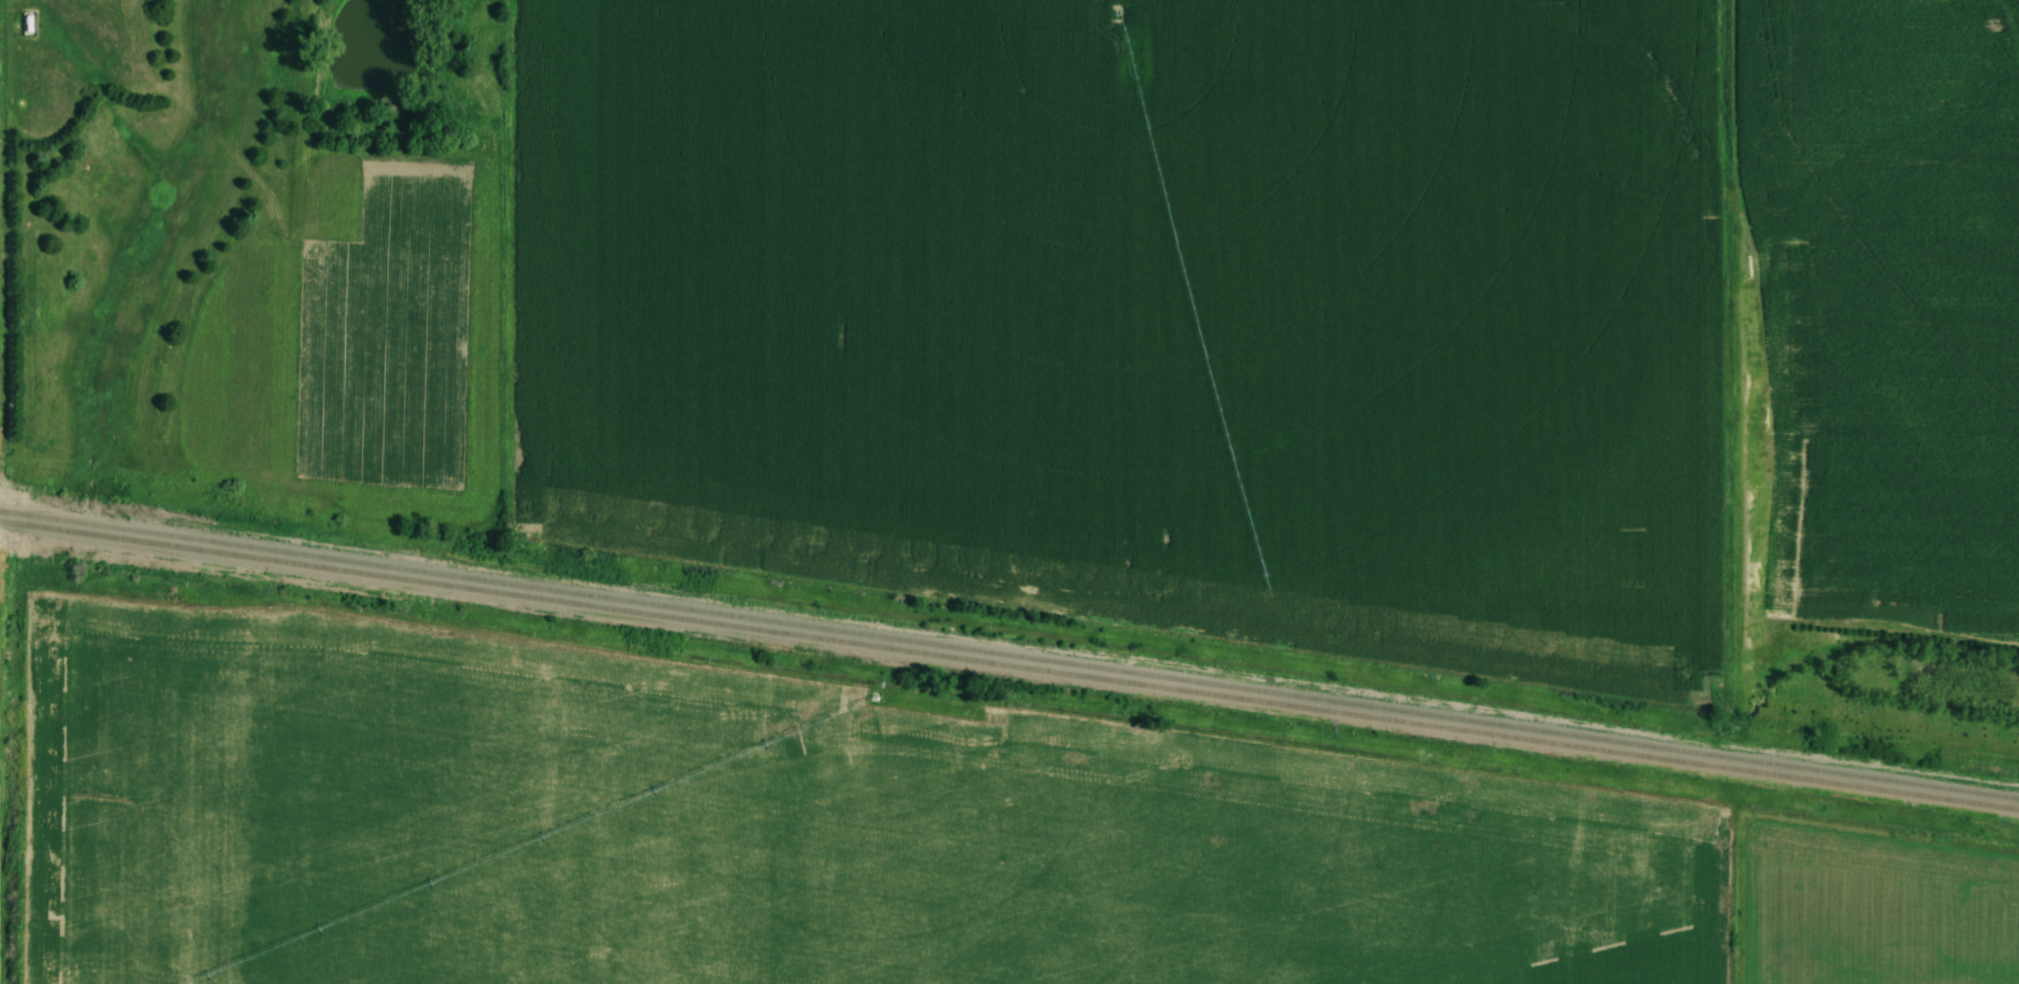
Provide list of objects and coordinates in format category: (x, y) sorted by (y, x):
crop: (1889, 308)
railway: (1008, 653)
railway: (1008, 667)

